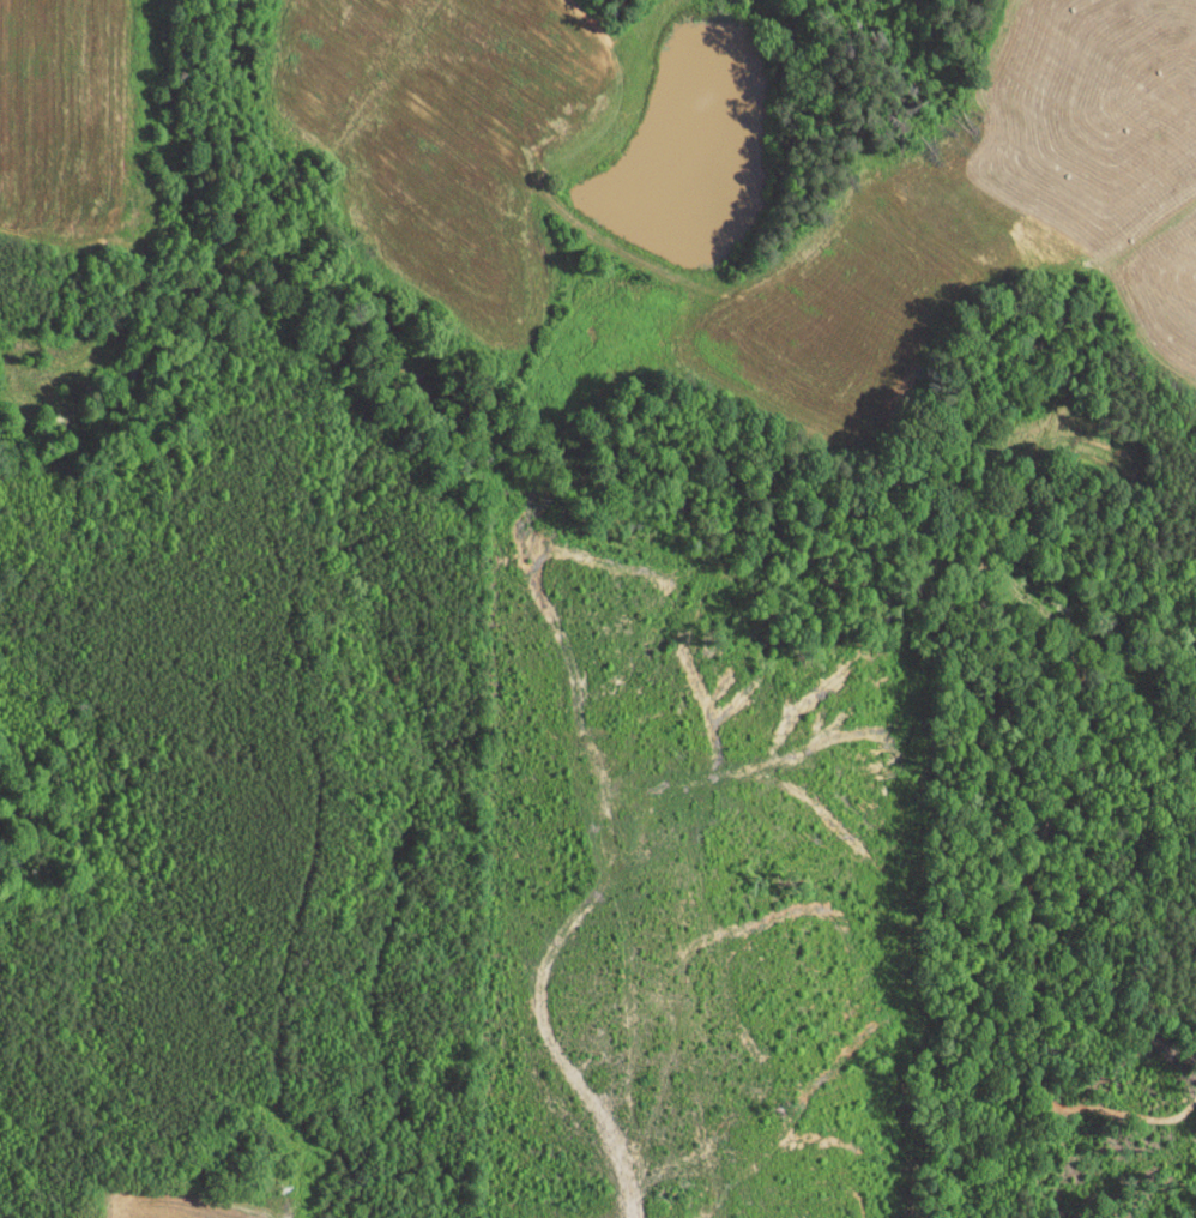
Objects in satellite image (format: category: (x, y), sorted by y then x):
road: (291, 1204)

